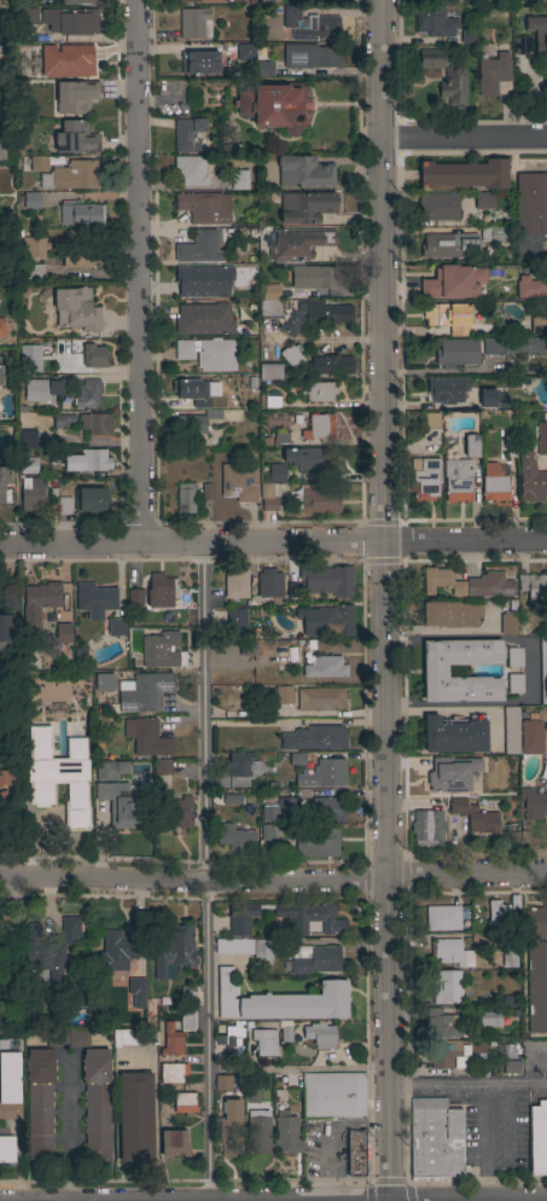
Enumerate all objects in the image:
building: (78, 1)
building: (211, 1)
building: (267, 1)
building: (290, 16)
building: (28, 17)
building: (70, 22)
building: (433, 22)
building: (194, 24)
building: (316, 29)
building: (537, 34)
building: (467, 36)
building: (522, 46)
building: (229, 48)
building: (24, 52)
building: (245, 53)
building: (313, 58)
building: (431, 59)
building: (56, 60)
building: (198, 62)
building: (263, 69)
building: (491, 74)
building: (453, 86)
building: (74, 97)
building: (274, 105)
building: (188, 135)
building: (75, 138)
road: (462, 139)
building: (1, 149)
building: (229, 150)
building: (18, 152)
building: (43, 163)
building: (188, 172)
building: (304, 173)
building: (464, 174)
building: (71, 176)
building: (239, 180)
building: (29, 201)
building: (483, 202)
building: (531, 204)
building: (305, 207)
building: (438, 207)
building: (204, 208)
building: (82, 214)
building: (482, 219)
building: (493, 234)
building: (297, 243)
building: (448, 245)
building: (35, 246)
building: (199, 248)
building: (80, 256)
building: (31, 272)
road: (136, 272)
building: (316, 277)
building: (203, 280)
building: (438, 283)
building: (525, 289)
building: (478, 291)
building: (270, 303)
building: (75, 308)
building: (324, 312)
building: (447, 314)
building: (203, 319)
building: (292, 324)
building: (539, 325)
building: (2, 329)
road: (342, 340)
building: (525, 346)
building: (488, 347)
building: (452, 353)
building: (209, 354)
building: (292, 355)
building: (93, 356)
building: (30, 359)
building: (72, 365)
building: (330, 365)
road: (440, 370)
building: (270, 372)
building: (0, 377)
building: (191, 389)
building: (41, 390)
building: (446, 390)
building: (318, 391)
building: (87, 394)
building: (493, 400)
building: (272, 402)
building: (62, 420)
building: (431, 420)
building: (95, 424)
building: (319, 427)
building: (192, 428)
building: (280, 439)
building: (541, 439)
building: (28, 440)
building: (267, 441)
building: (471, 447)
building: (508, 447)
building: (312, 459)
building: (97, 460)
building: (28, 464)
building: (274, 474)
building: (424, 478)
building: (456, 480)
building: (530, 480)
building: (2, 482)
building: (493, 483)
building: (238, 485)
building: (33, 494)
building: (192, 497)
building: (268, 497)
building: (89, 499)
building: (318, 499)
building: (64, 506)
road: (273, 544)
building: (328, 581)
building: (442, 581)
building: (237, 584)
building: (269, 584)
building: (489, 586)
building: (159, 590)
building: (534, 590)
building: (135, 598)
building: (8, 599)
building: (94, 600)
road: (383, 600)
building: (37, 605)
building: (450, 614)
building: (326, 621)
building: (235, 623)
building: (508, 625)
building: (116, 627)
building: (6, 629)
building: (63, 633)
building: (298, 640)
building: (310, 643)
building: (246, 649)
building: (158, 651)
building: (80, 652)
building: (291, 654)
building: (514, 657)
road: (531, 667)
building: (325, 668)
building: (543, 671)
building: (435, 672)
building: (100, 684)
building: (514, 684)
building: (140, 692)
building: (283, 695)
building: (320, 698)
road: (456, 708)
building: (511, 733)
building: (533, 733)
building: (455, 735)
building: (146, 737)
building: (314, 738)
building: (297, 759)
building: (239, 762)
building: (162, 767)
building: (105, 771)
building: (476, 773)
building: (8, 774)
building: (324, 774)
building: (449, 776)
building: (58, 777)
building: (277, 782)
building: (232, 802)
building: (118, 803)
building: (533, 803)
building: (289, 808)
building: (328, 808)
building: (181, 812)
building: (269, 813)
building: (99, 816)
building: (475, 817)
building: (427, 825)
building: (268, 832)
building: (235, 839)
building: (315, 841)
building: (280, 848)
road: (206, 872)
road: (273, 884)
building: (499, 916)
building: (309, 917)
building: (240, 918)
building: (442, 918)
building: (233, 946)
building: (50, 948)
building: (117, 951)
building: (262, 951)
building: (174, 952)
building: (450, 952)
building: (508, 957)
building: (313, 959)
building: (536, 969)
building: (447, 986)
building: (187, 991)
building: (136, 992)
building: (280, 1000)
building: (164, 1002)
building: (185, 1016)
building: (490, 1017)
building: (246, 1023)
building: (441, 1023)
building: (285, 1031)
building: (320, 1034)
building: (68, 1038)
building: (135, 1038)
building: (171, 1040)
building: (231, 1040)
building: (264, 1042)
building: (443, 1055)
building: (506, 1060)
road: (299, 1067)
building: (171, 1073)
building: (222, 1083)
building: (8, 1084)
road: (467, 1087)
building: (251, 1093)
building: (333, 1096)
building: (97, 1103)
building: (39, 1104)
building: (185, 1104)
building: (135, 1118)
road: (68, 1127)
building: (229, 1130)
road: (328, 1132)
building: (257, 1133)
building: (286, 1133)
building: (537, 1138)
building: (435, 1141)
building: (173, 1143)
road: (495, 1144)
building: (6, 1149)
building: (355, 1154)

